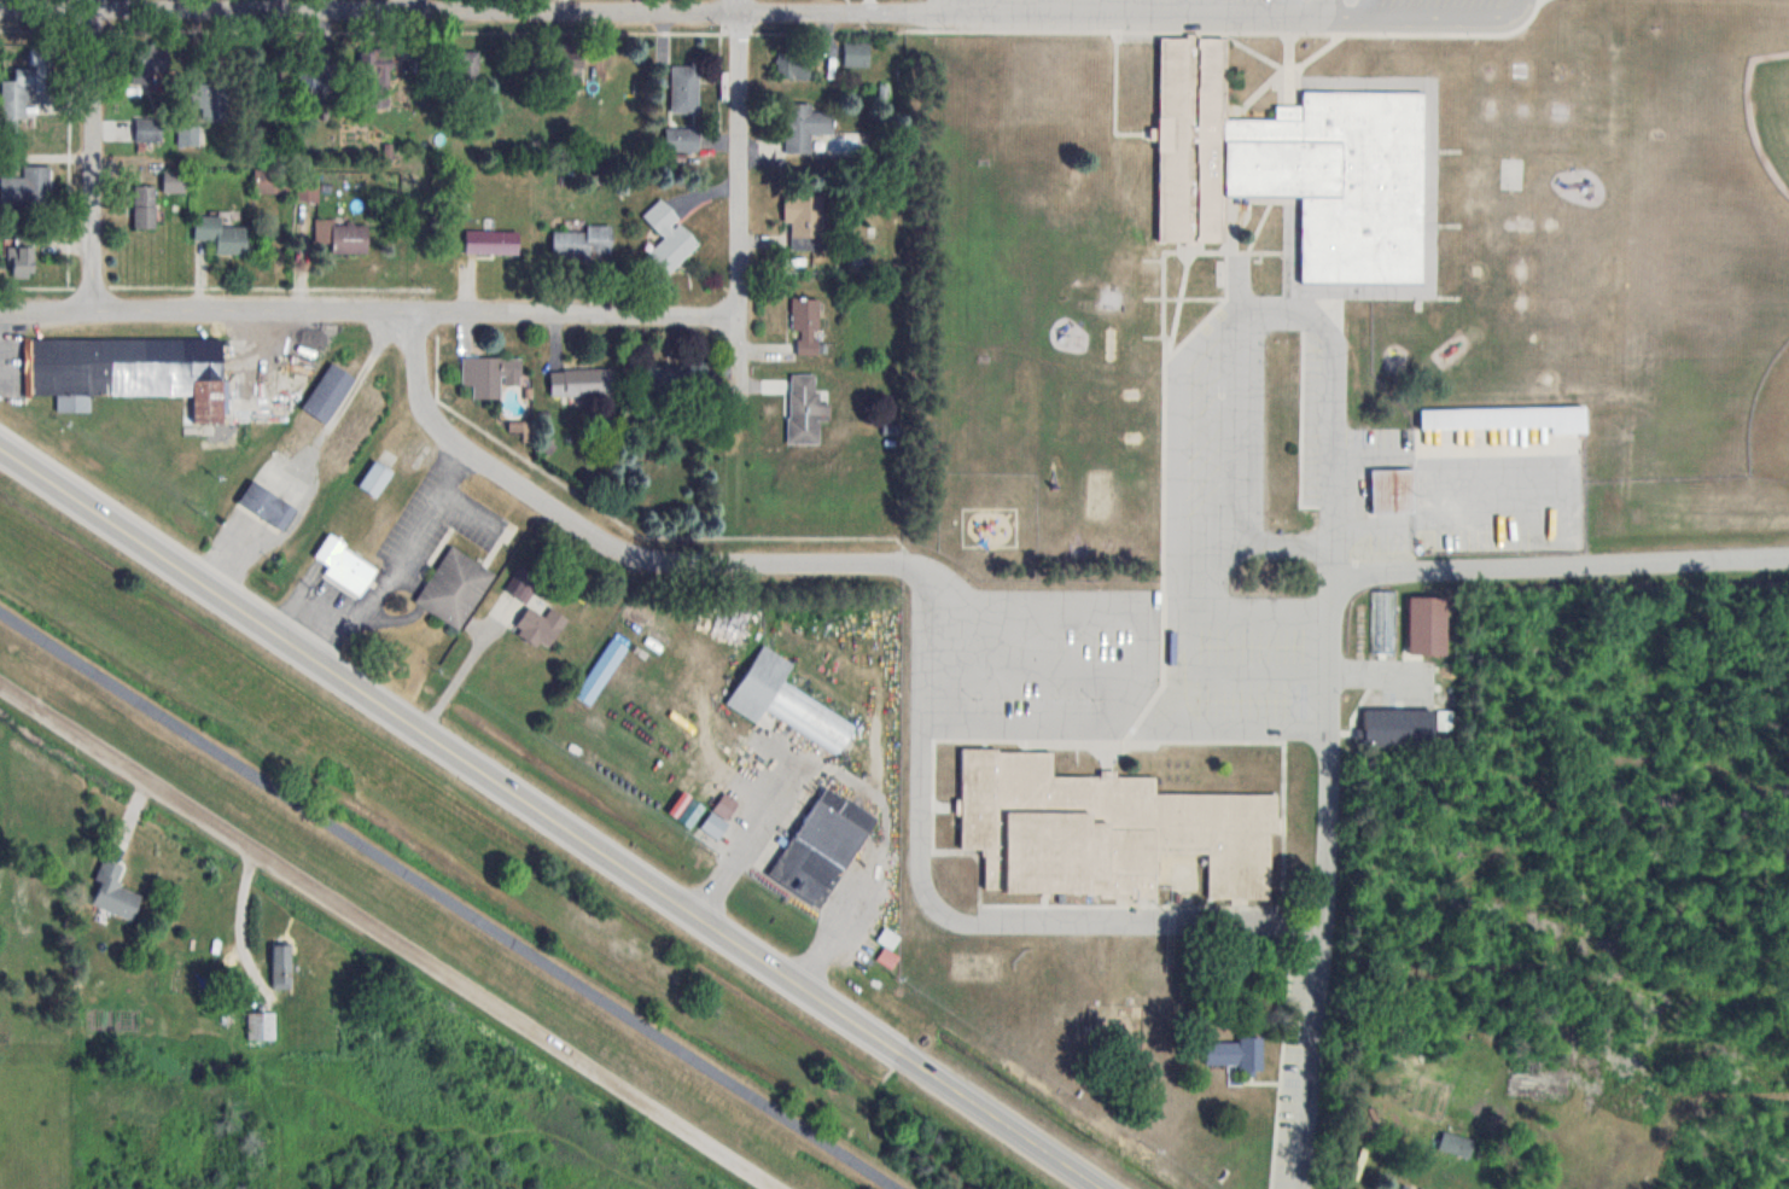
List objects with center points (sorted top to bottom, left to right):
road: (412, 5)
road: (1329, 7)
road: (664, 11)
building: (856, 54)
building: (793, 64)
building: (147, 65)
building: (465, 68)
building: (567, 70)
building: (377, 76)
building: (311, 78)
building: (684, 89)
building: (12, 104)
building: (804, 127)
building: (147, 130)
building: (188, 134)
building: (682, 140)
building: (1283, 153)
road: (92, 155)
building: (174, 181)
building: (270, 181)
building: (27, 188)
road: (739, 194)
building: (144, 208)
building: (804, 218)
building: (226, 235)
building: (343, 235)
building: (669, 237)
building: (491, 241)
building: (583, 241)
building: (24, 253)
road: (369, 309)
building: (805, 325)
building: (128, 371)
building: (490, 375)
building: (677, 377)
building: (583, 381)
building: (327, 394)
building: (804, 410)
road: (1154, 432)
road: (1216, 456)
building: (374, 479)
building: (1393, 490)
building: (266, 506)
road: (595, 536)
road: (1557, 559)
building: (345, 566)
building: (454, 588)
building: (523, 590)
road: (1242, 593)
building: (1438, 619)
building: (540, 628)
road: (1154, 651)
building: (787, 700)
road: (1331, 715)
building: (1402, 728)
road: (1224, 739)
road: (450, 750)
building: (1103, 829)
building: (818, 850)
building: (113, 891)
road: (449, 901)
road: (951, 916)
road: (390, 936)
building: (887, 958)
building: (281, 964)
building: (261, 1025)
building: (1235, 1053)
road: (1002, 1121)
building: (1405, 1187)

